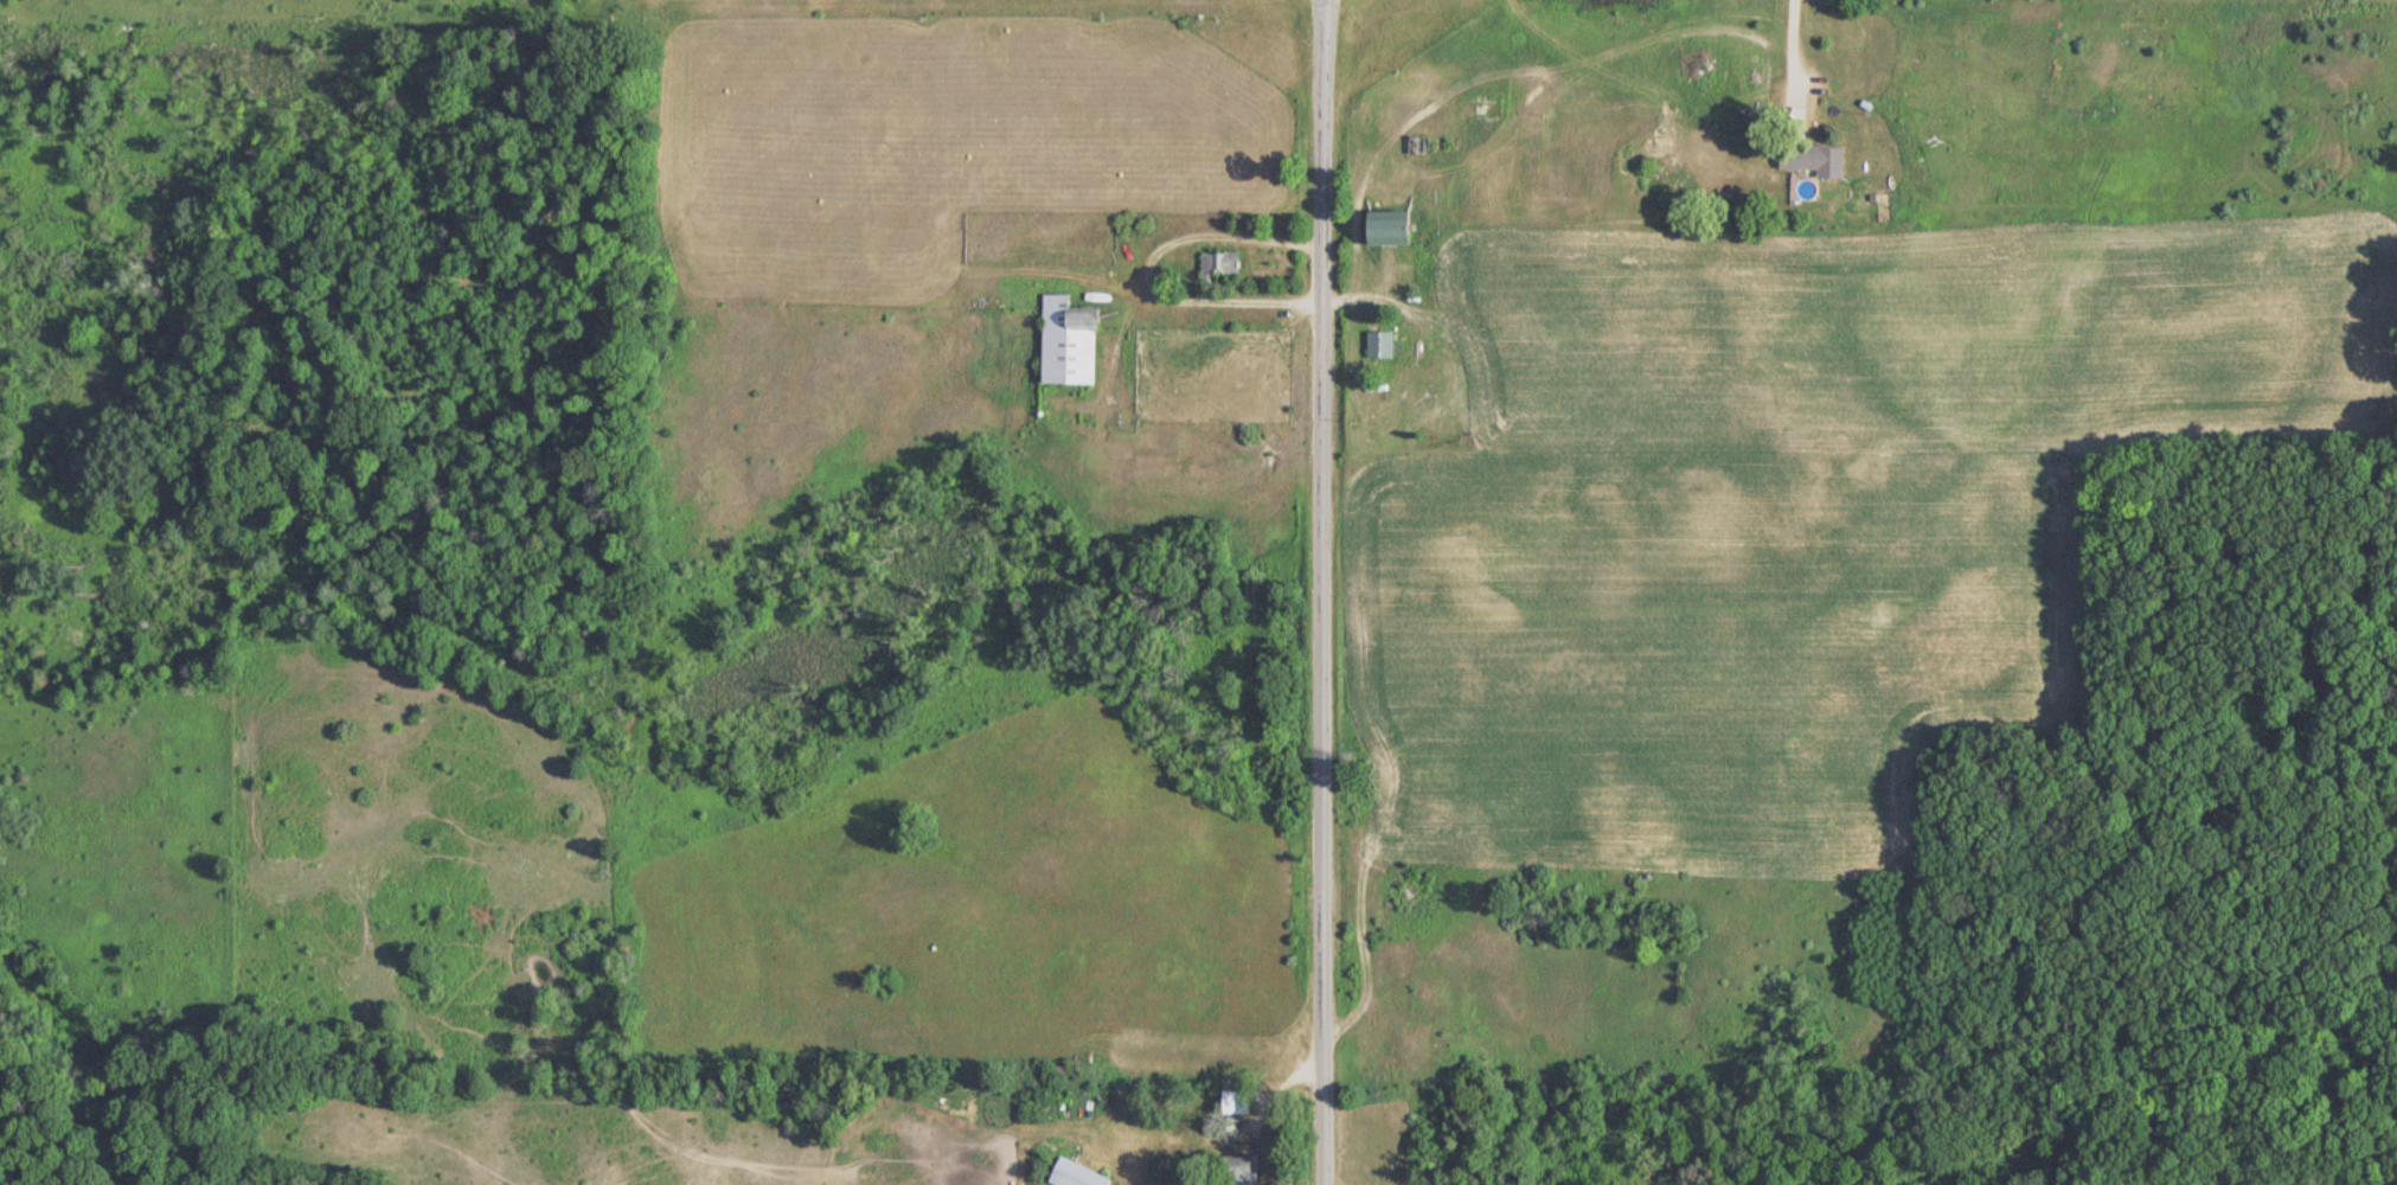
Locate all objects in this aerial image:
road: (1793, 50)
building: (1808, 159)
building: (1382, 229)
building: (1216, 262)
road: (1142, 273)
building: (1062, 342)
building: (1376, 345)
road: (1320, 591)
building: (1233, 1170)
building: (1068, 1174)

